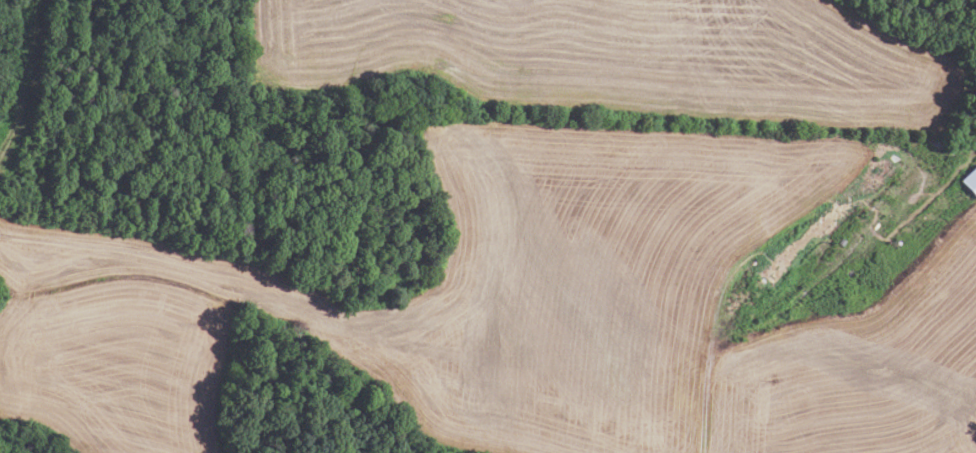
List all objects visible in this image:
crop: (628, 57)
building: (971, 180)
road: (710, 360)

